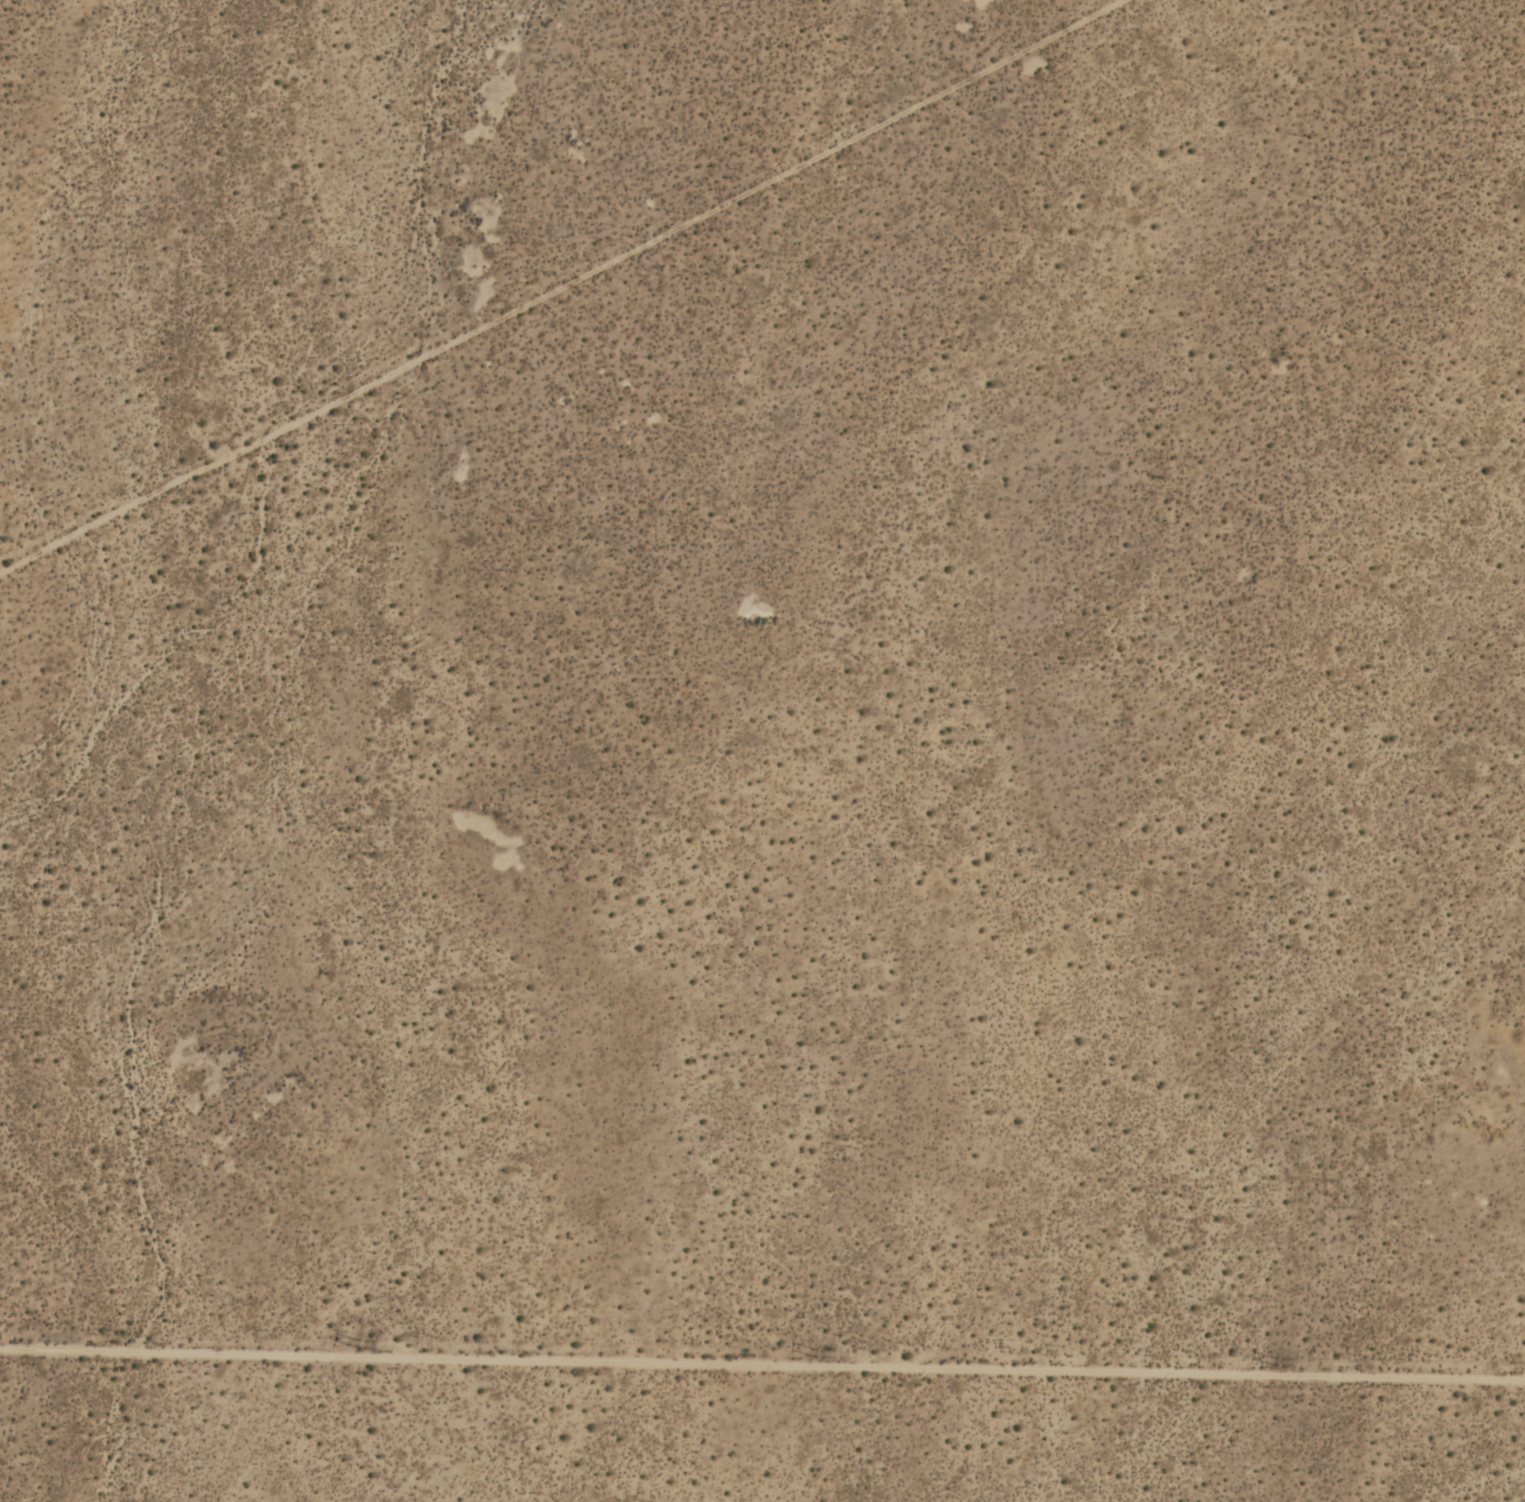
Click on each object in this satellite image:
power tower: (361, 1345)
power tower: (818, 1353)
power tower: (1278, 1364)

